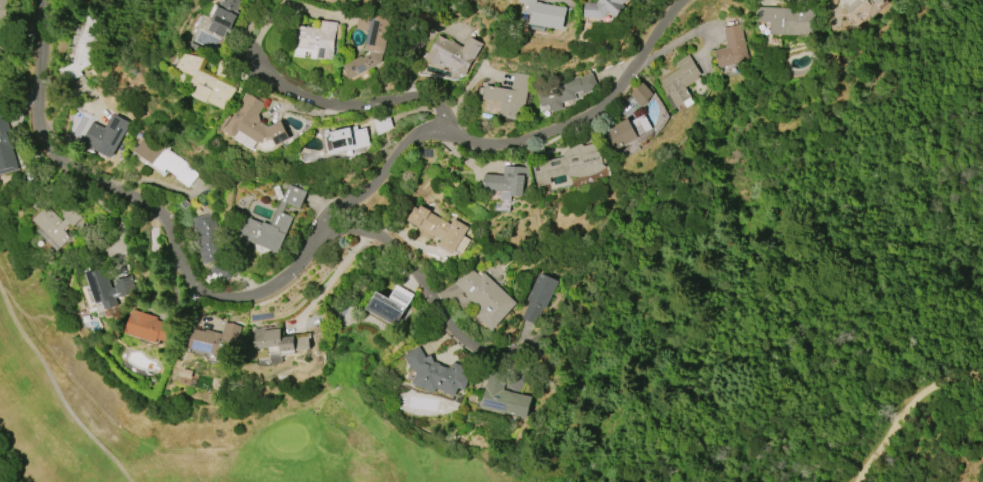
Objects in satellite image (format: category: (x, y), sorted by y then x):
building: (628, 0)
building: (877, 1)
building: (851, 5)
building: (3, 8)
building: (602, 8)
building: (545, 14)
building: (223, 17)
building: (787, 20)
building: (314, 40)
building: (370, 42)
building: (88, 47)
building: (731, 48)
building: (452, 53)
building: (2, 54)
building: (680, 81)
building: (203, 82)
building: (564, 90)
building: (642, 94)
building: (509, 96)
road: (333, 100)
building: (383, 123)
building: (255, 124)
building: (628, 132)
building: (105, 135)
building: (342, 139)
road: (511, 140)
building: (7, 148)
building: (163, 159)
building: (571, 163)
building: (506, 182)
road: (148, 202)
building: (273, 222)
building: (54, 224)
building: (440, 229)
building: (210, 246)
road: (335, 274)
road: (414, 275)
building: (107, 286)
building: (485, 296)
building: (538, 298)
building: (386, 308)
building: (150, 327)
building: (278, 340)
building: (217, 341)
building: (435, 373)
road: (51, 379)
park: (40, 383)
building: (502, 397)
road: (910, 411)
park: (287, 435)

